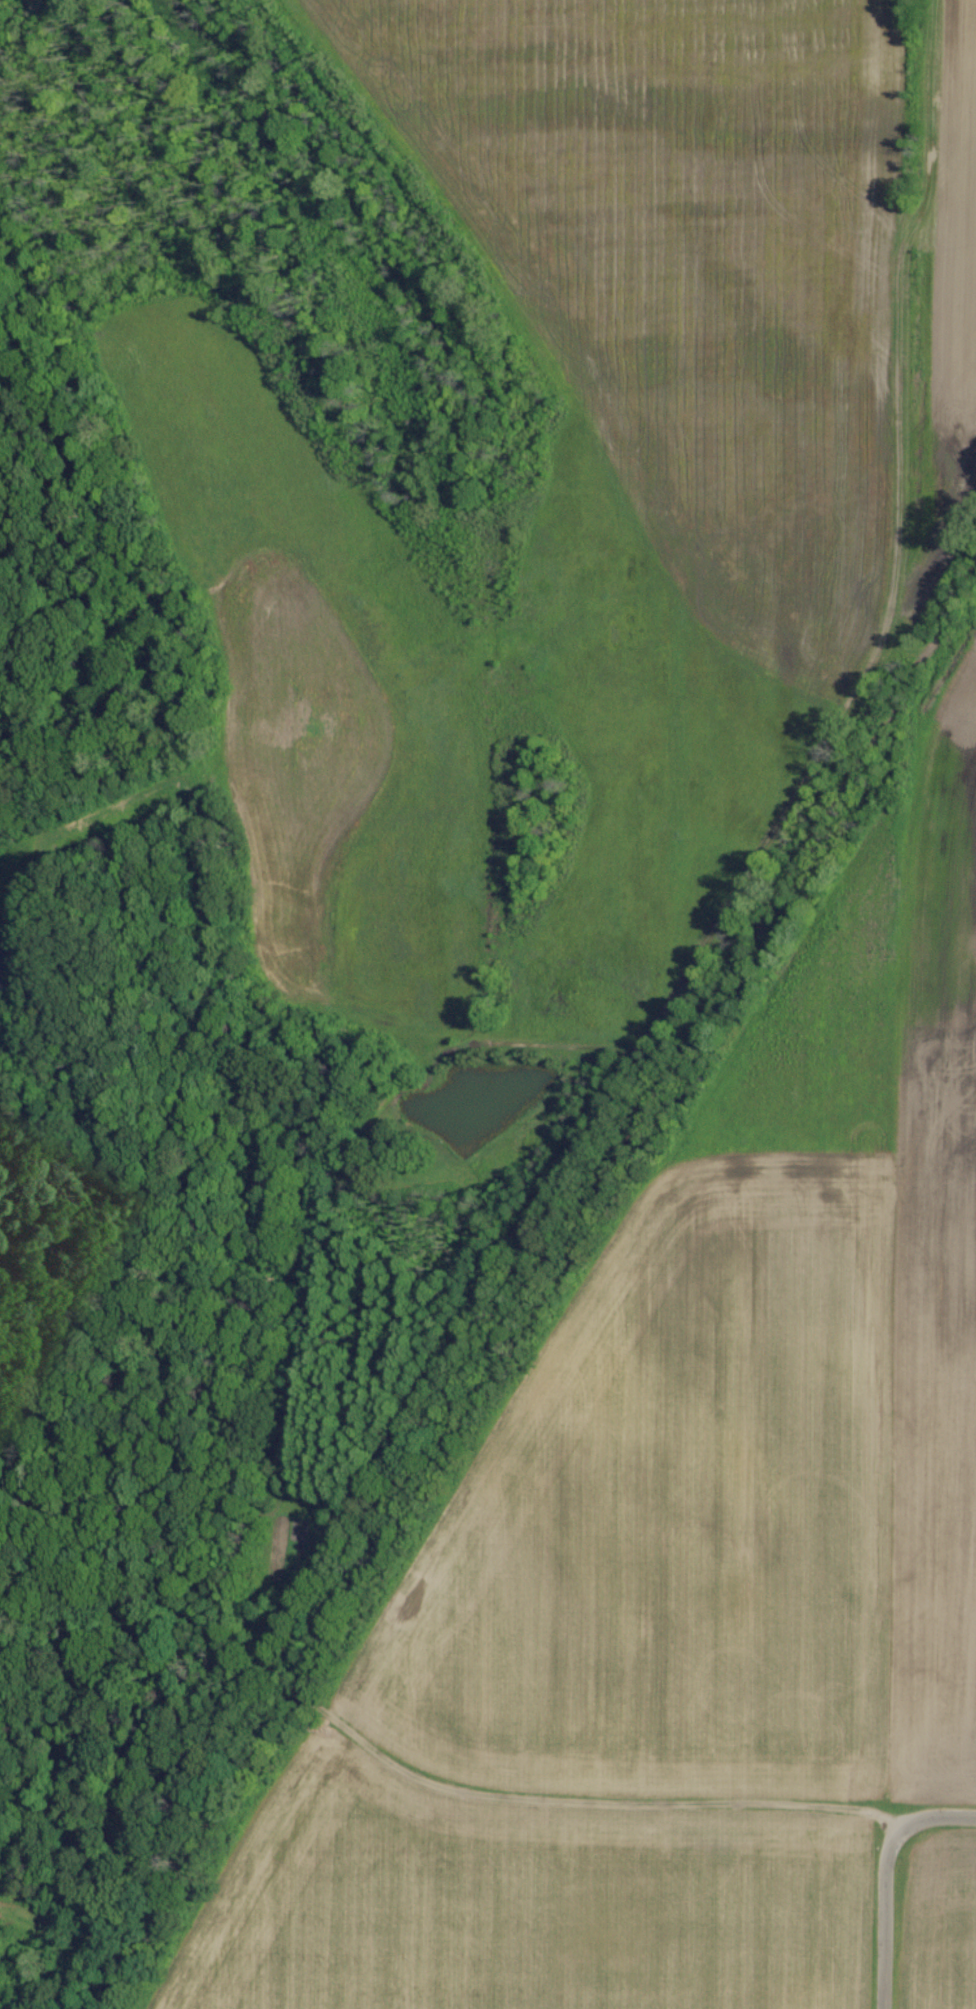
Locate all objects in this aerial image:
road: (879, 1877)

